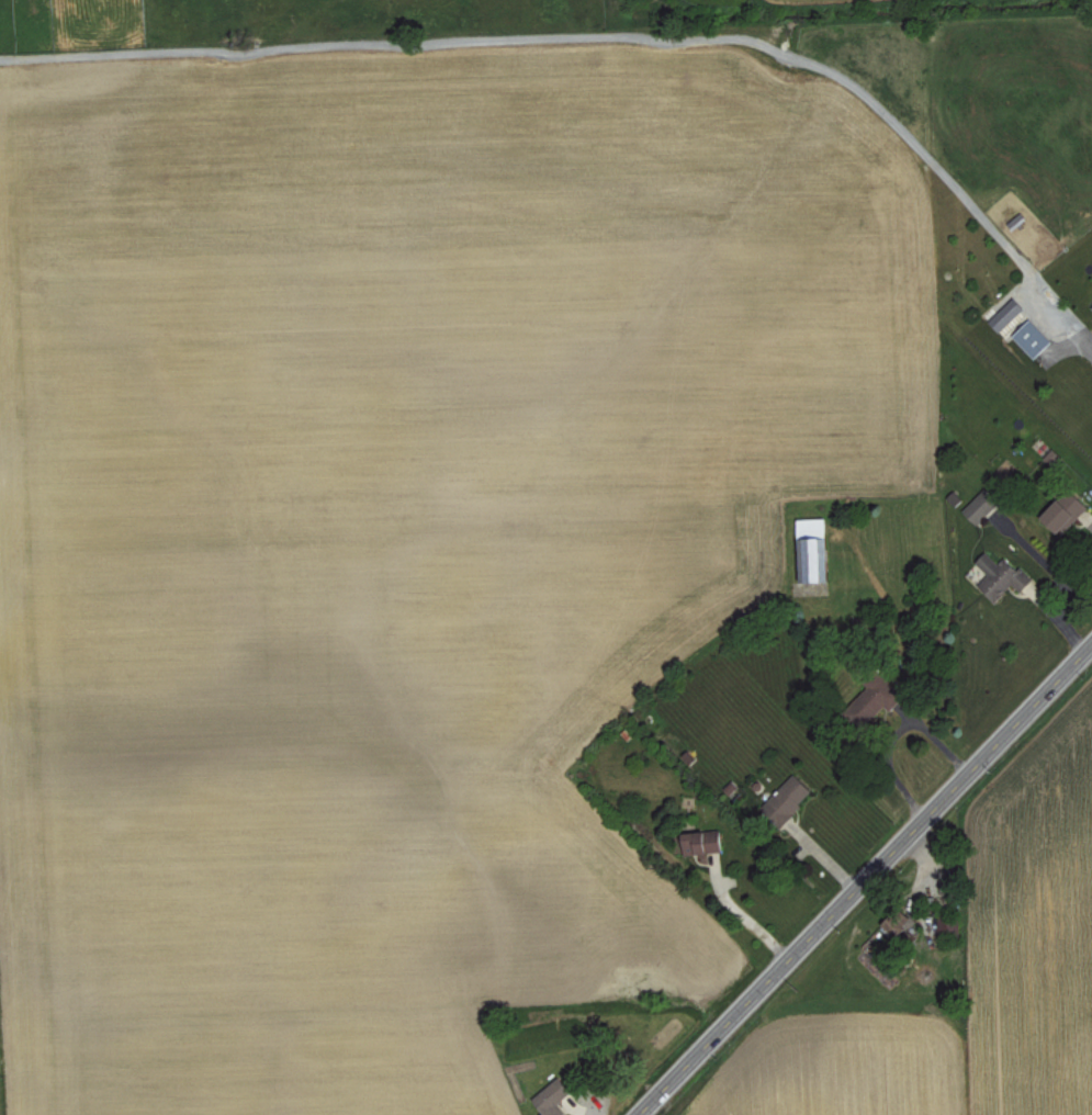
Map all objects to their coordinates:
road: (618, 41)
building: (1007, 314)
building: (1035, 338)
building: (1056, 459)
building: (982, 505)
building: (1068, 511)
building: (817, 550)
building: (1003, 575)
building: (883, 690)
building: (790, 796)
building: (706, 840)
road: (868, 882)
road: (745, 915)
building: (896, 925)
building: (555, 1095)

